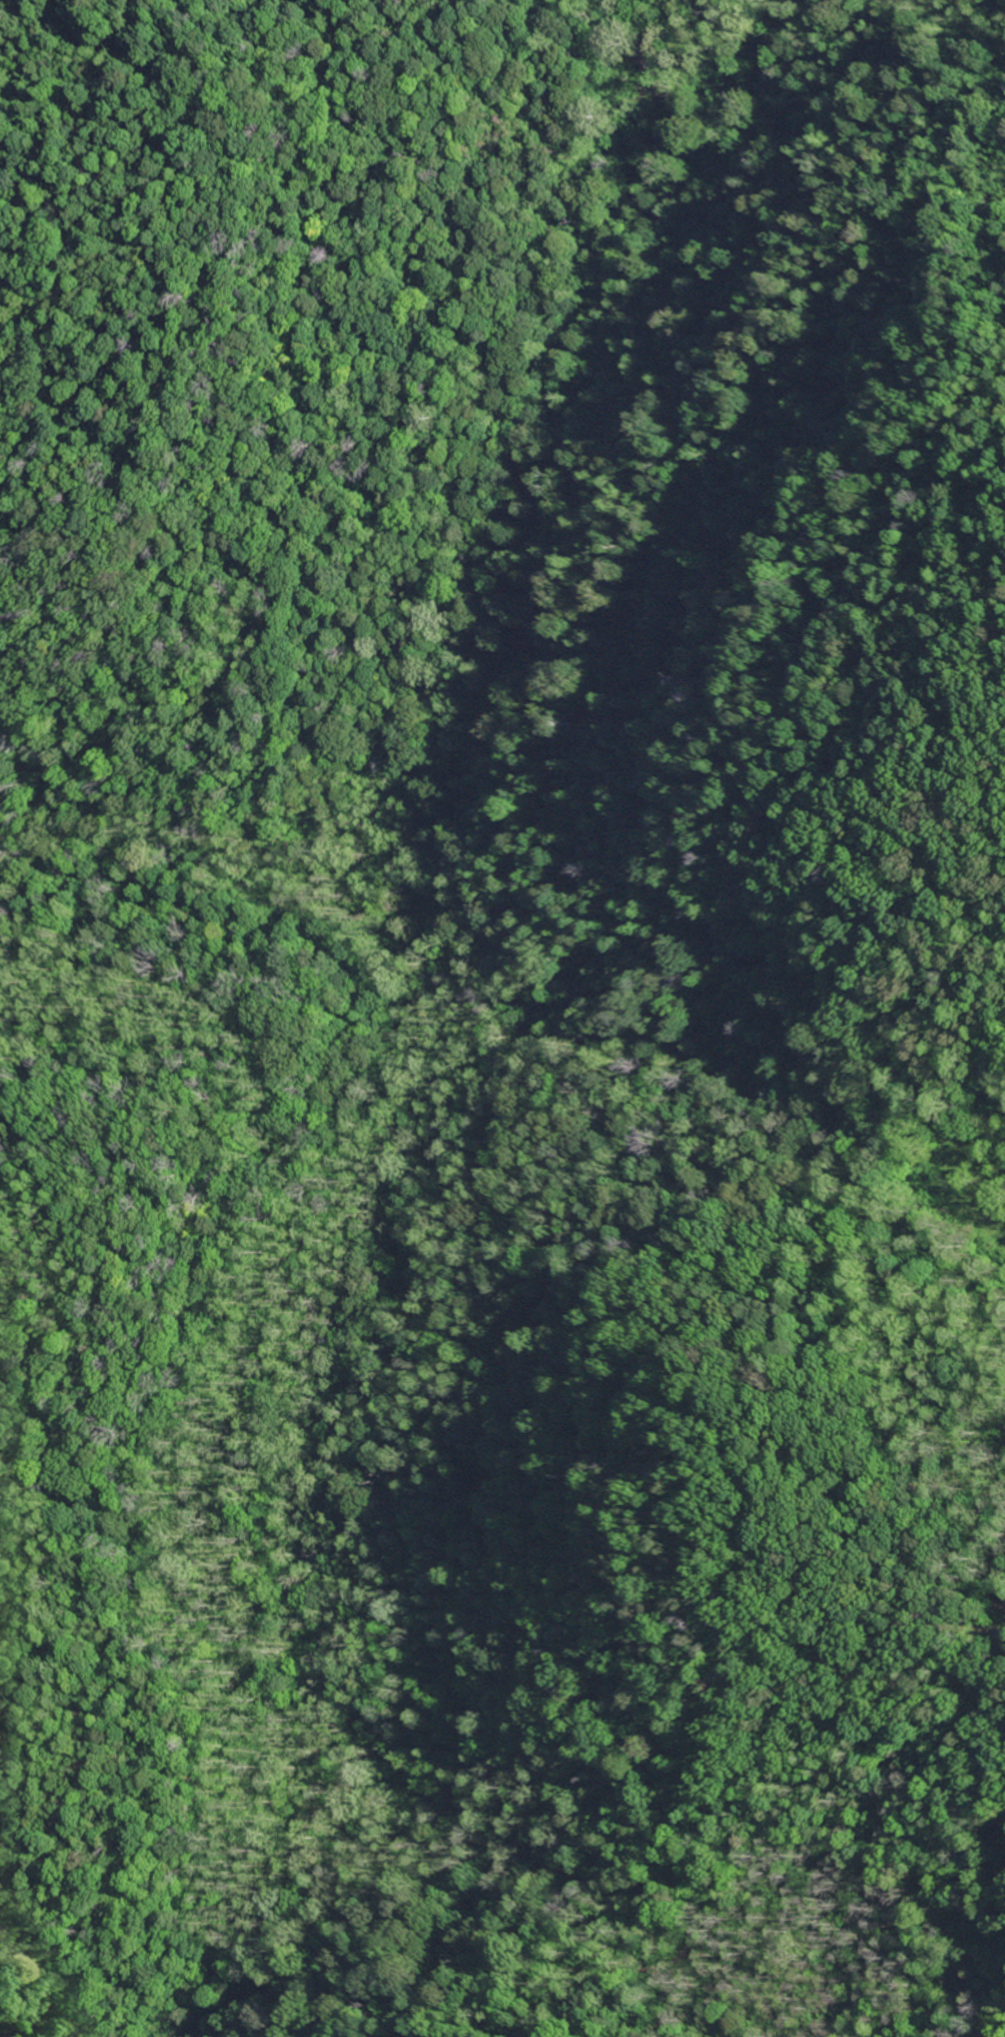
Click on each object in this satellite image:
road: (795, 1189)
road: (1004, 1648)

